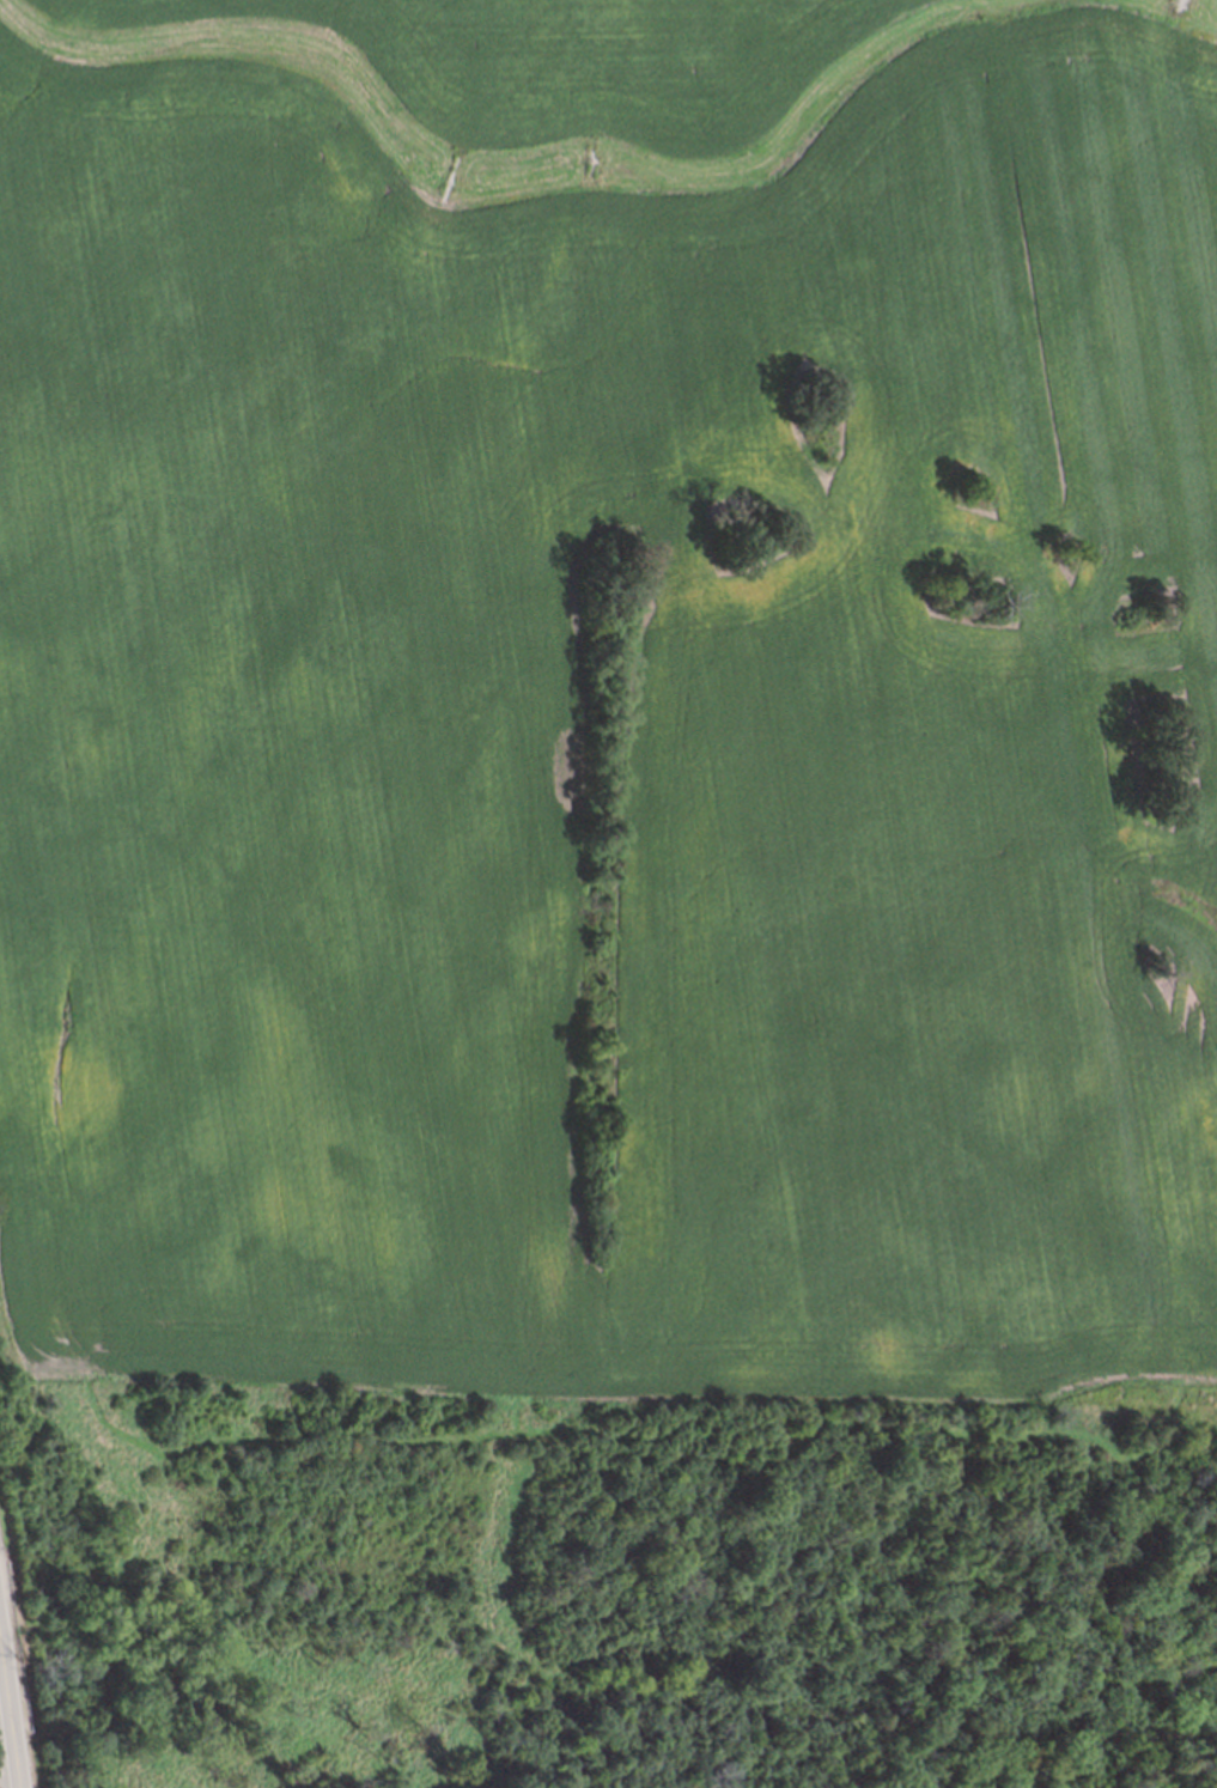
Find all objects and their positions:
road: (10, 1716)

